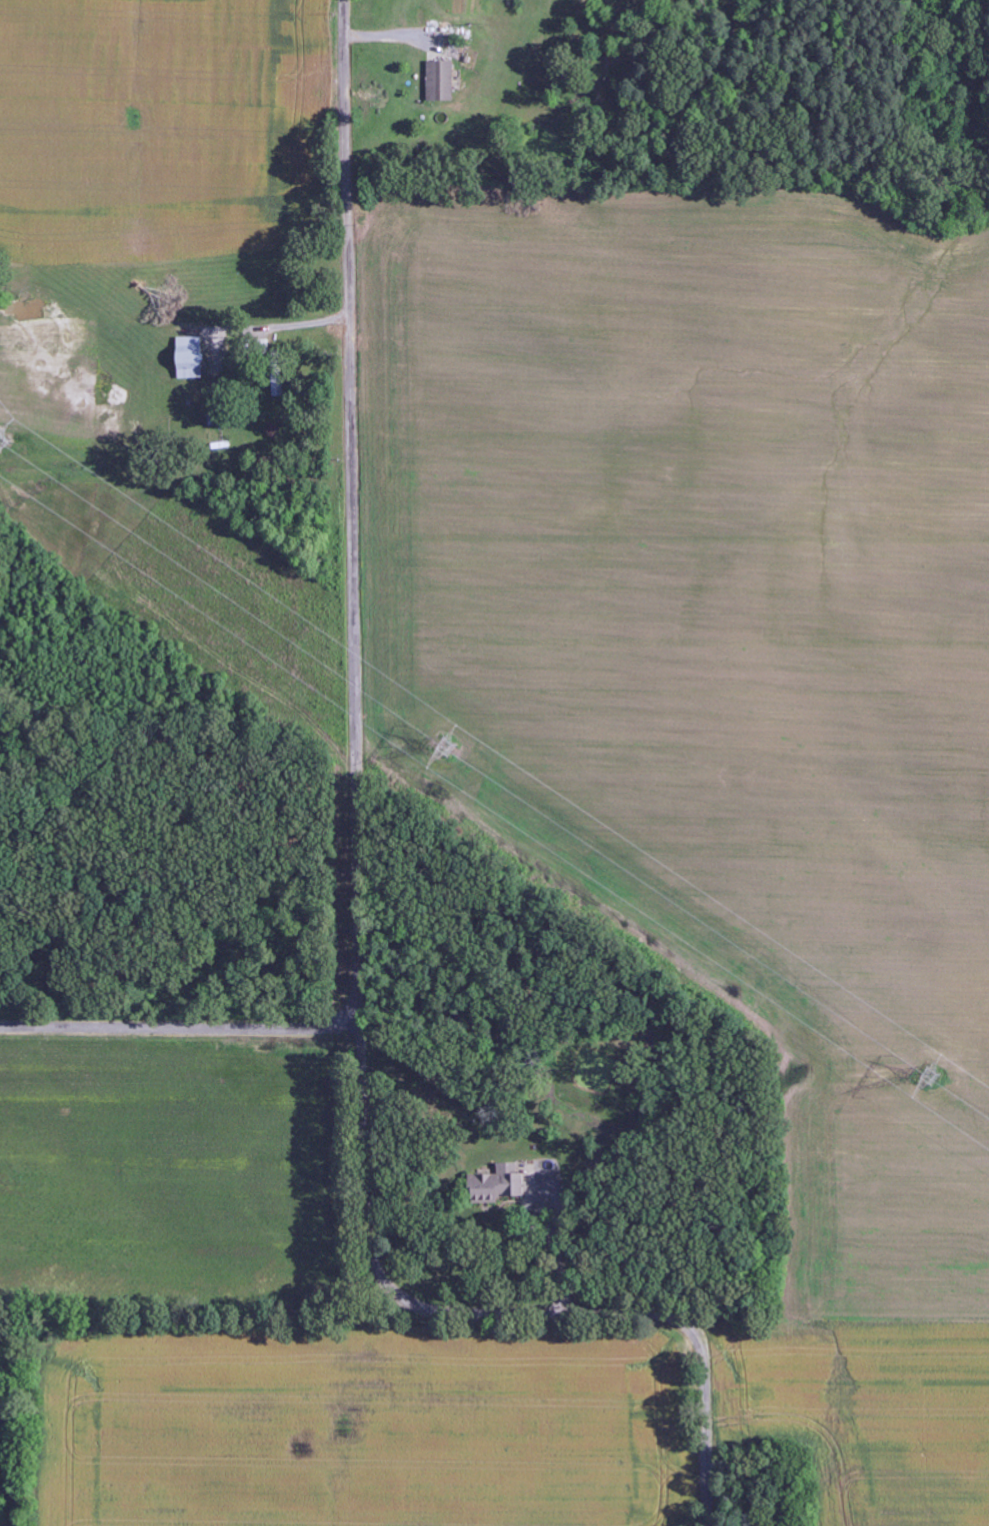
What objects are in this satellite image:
building: (441, 81)
road: (280, 222)
building: (190, 358)
power tower: (444, 745)
road: (357, 895)
road: (180, 1027)
power tower: (925, 1069)
building: (498, 1185)

